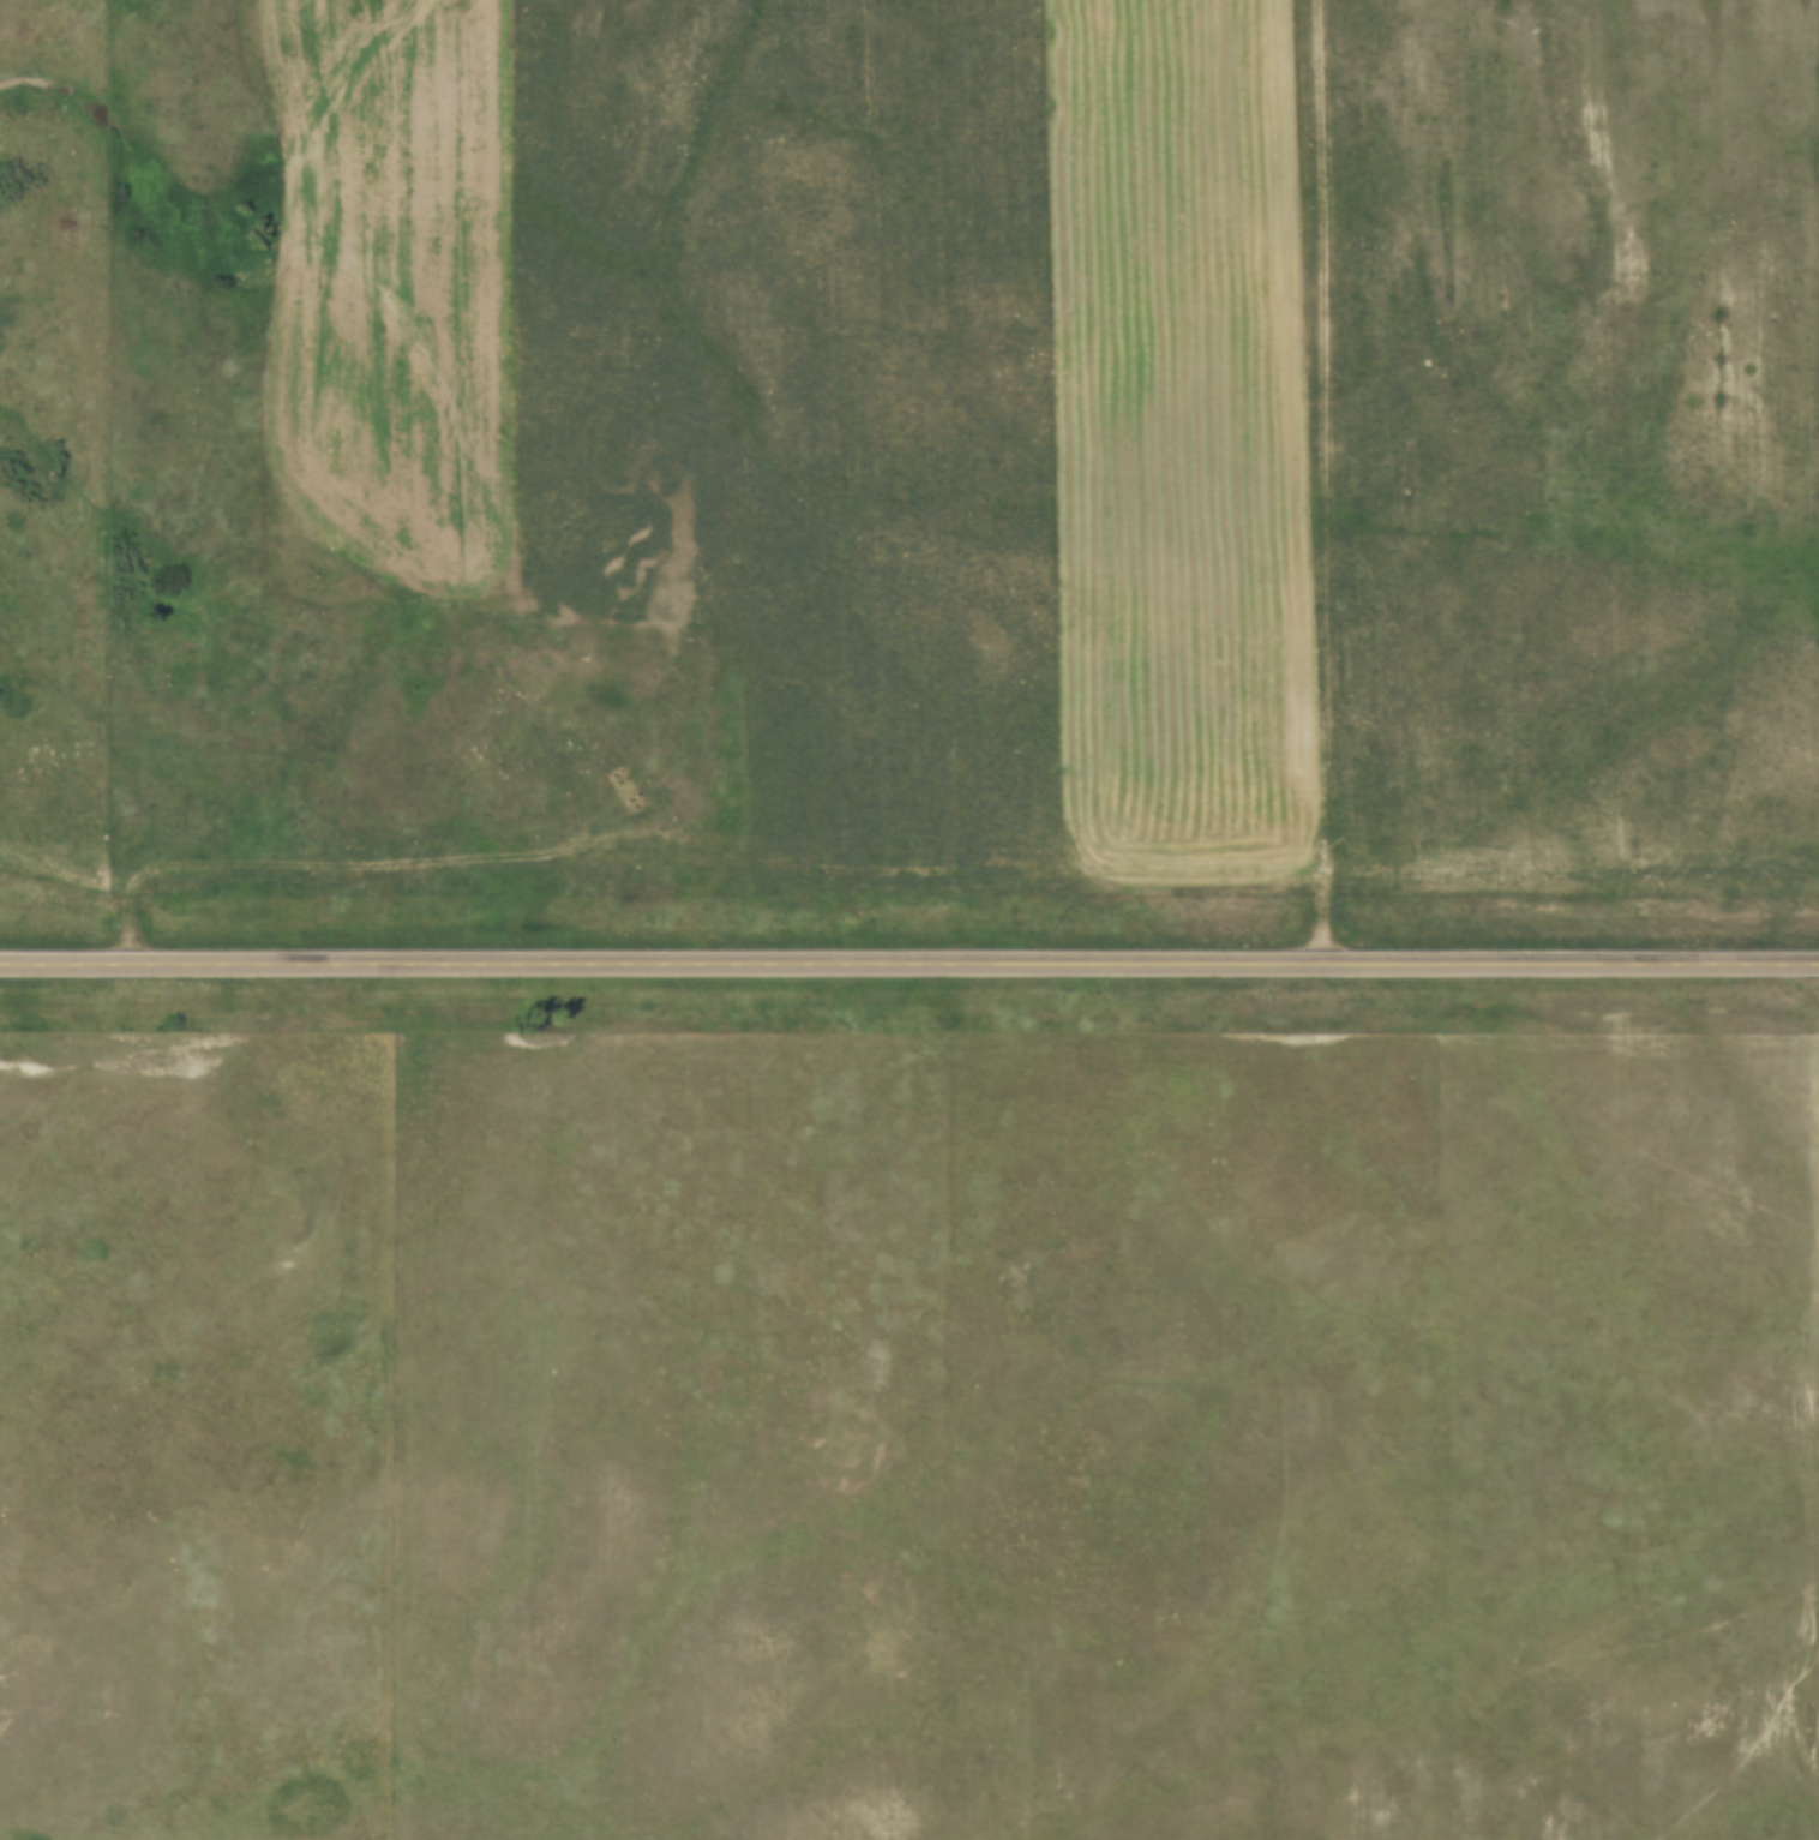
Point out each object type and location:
road: (1325, 483)
road: (908, 969)
road: (1814, 1589)

